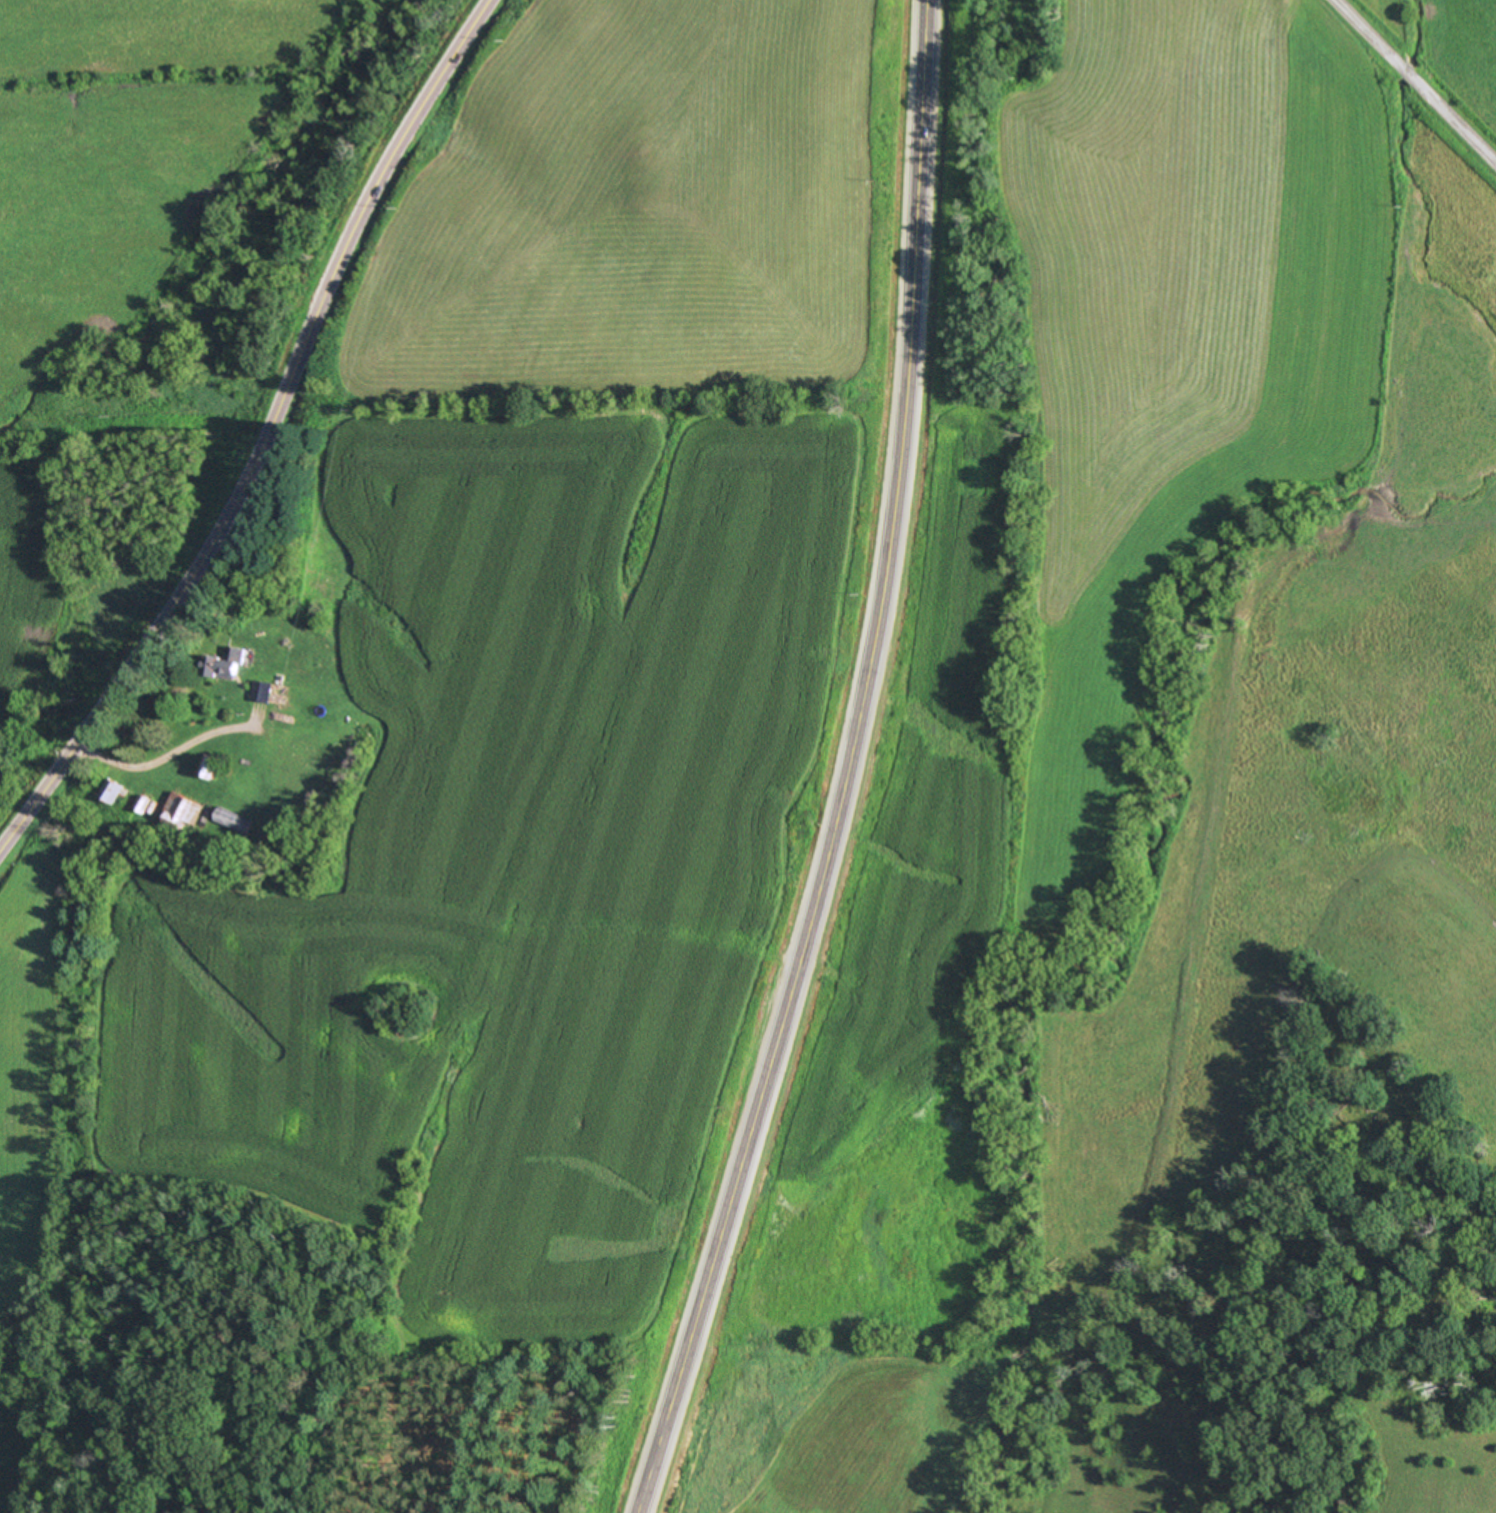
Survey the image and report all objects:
road: (1410, 85)
road: (262, 436)
building: (228, 665)
building: (263, 692)
road: (164, 755)
building: (307, 756)
building: (211, 767)
road: (843, 768)
building: (111, 792)
building: (183, 810)
building: (233, 821)

